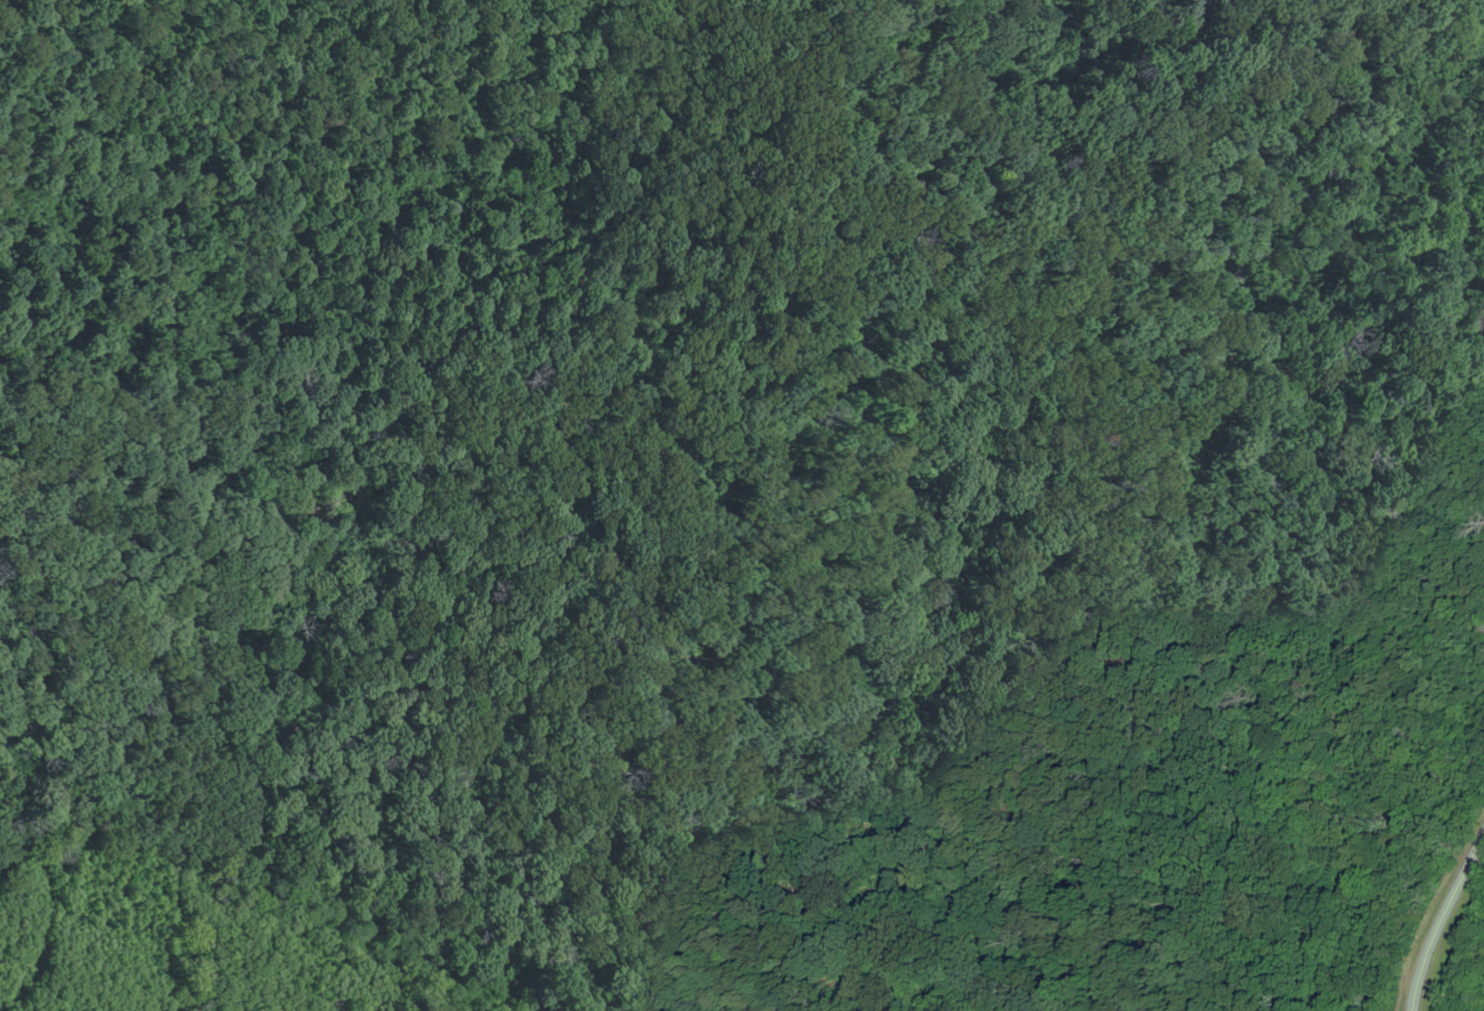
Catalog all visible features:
road: (1440, 918)

